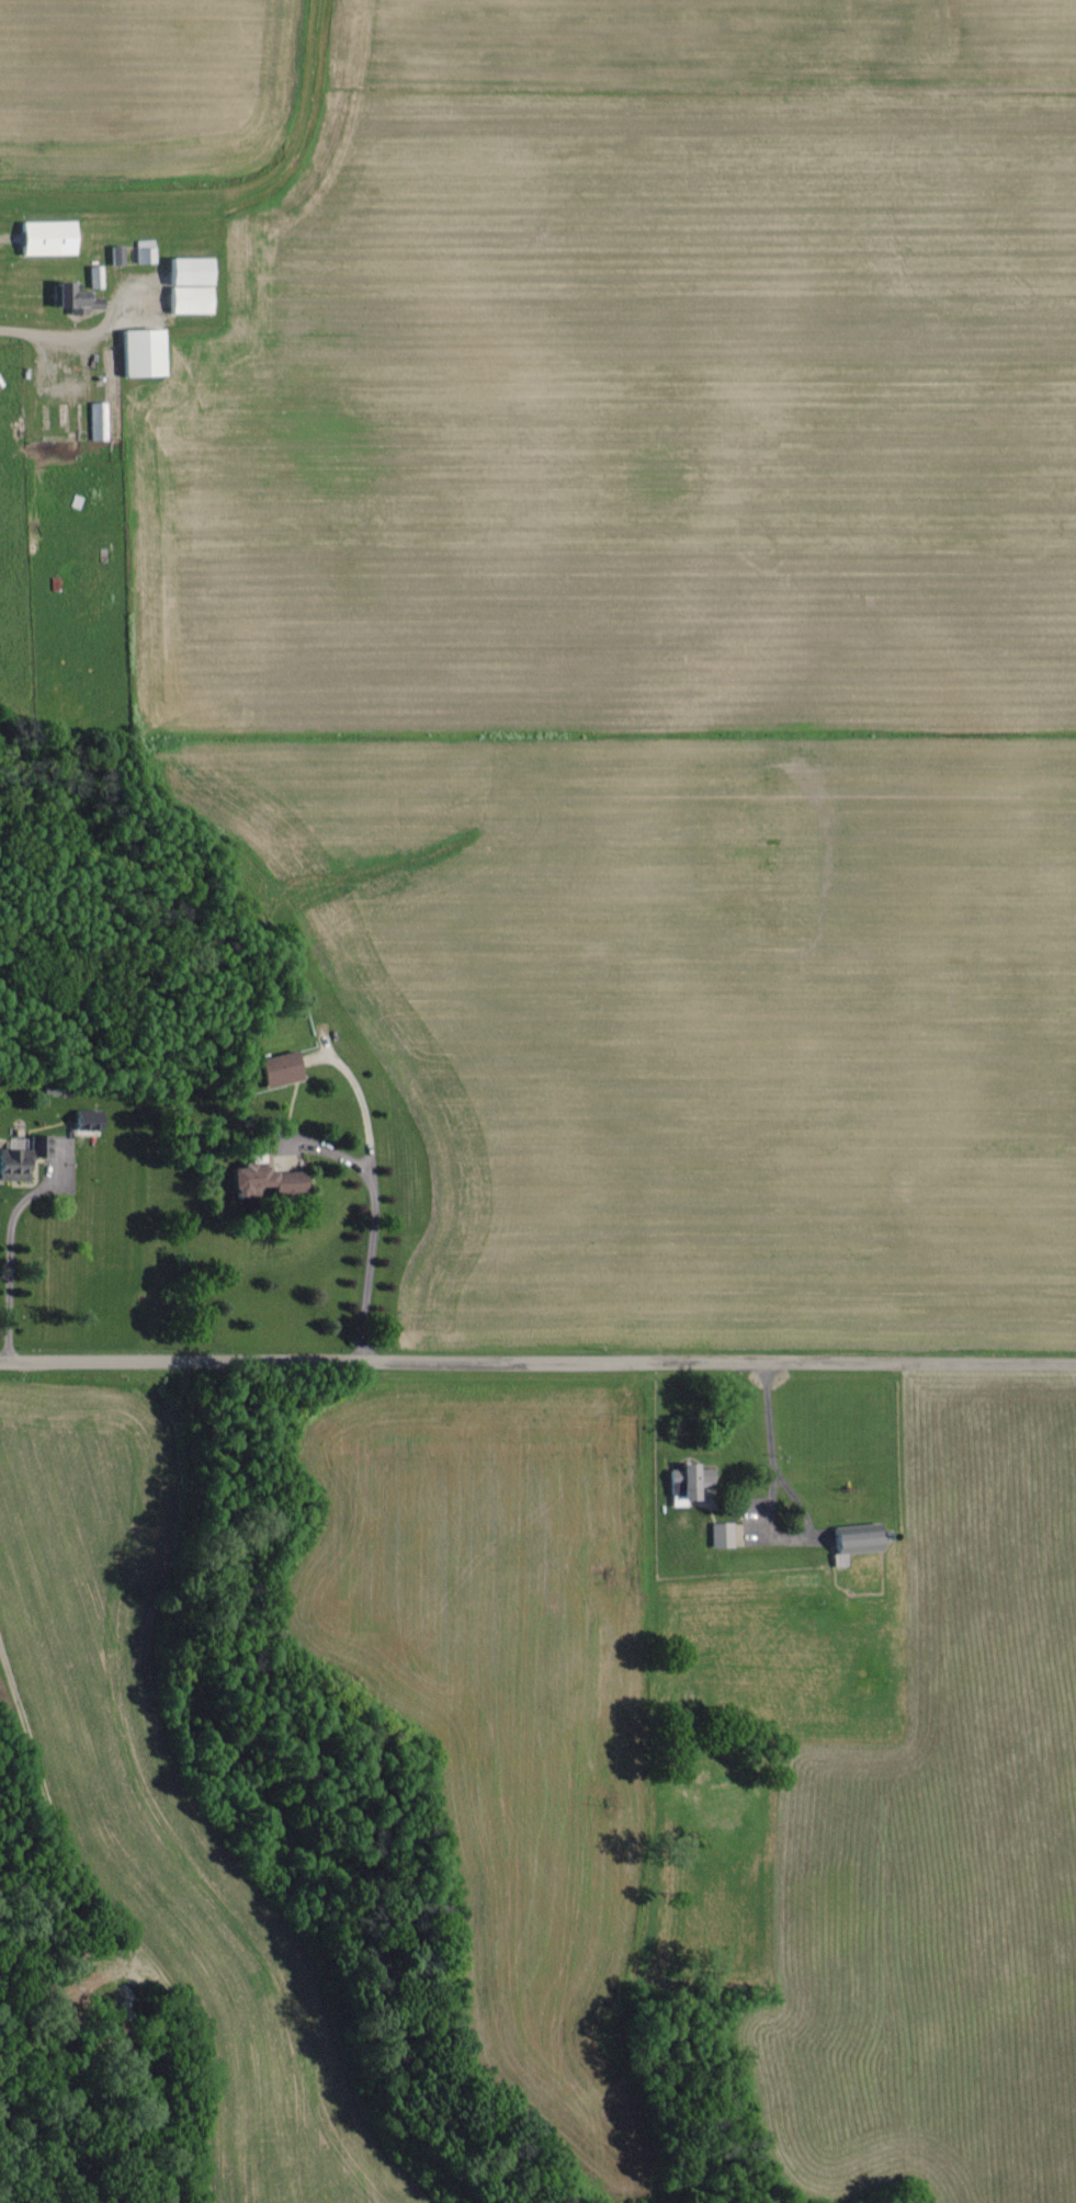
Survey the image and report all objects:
building: (45, 239)
building: (143, 252)
building: (186, 286)
building: (77, 295)
road: (35, 334)
building: (140, 354)
building: (97, 422)
building: (276, 1071)
building: (22, 1160)
building: (259, 1181)
road: (373, 1218)
road: (11, 1244)
road: (537, 1361)
road: (770, 1501)
building: (718, 1535)

